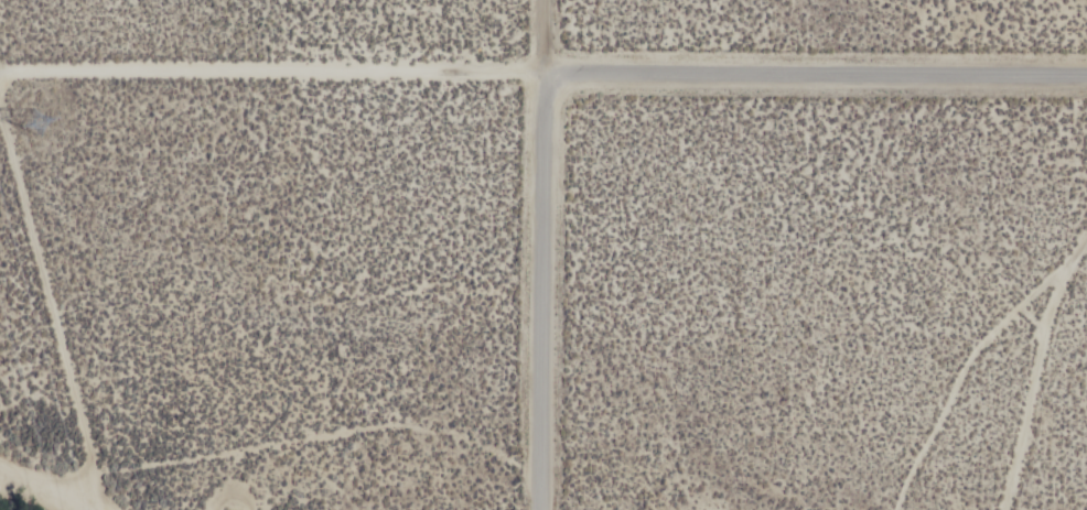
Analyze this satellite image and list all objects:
road: (556, 37)
road: (278, 69)
road: (821, 76)
power tower: (40, 117)
road: (51, 284)
road: (541, 292)
road: (72, 485)

